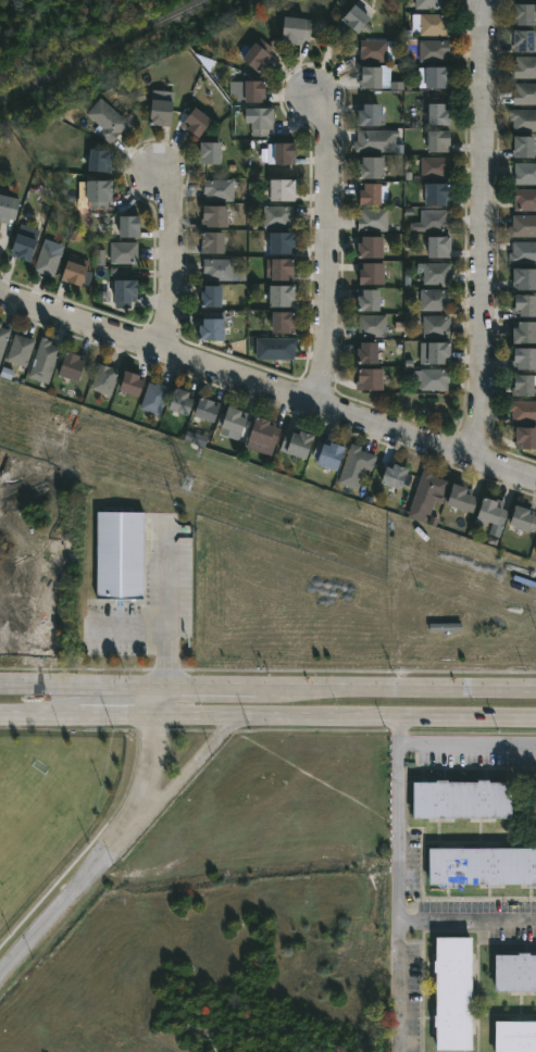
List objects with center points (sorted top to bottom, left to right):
building: (428, 4)
building: (521, 15)
building: (352, 20)
building: (432, 24)
park: (54, 25)
building: (295, 29)
building: (521, 41)
railway: (100, 49)
building: (432, 50)
building: (373, 51)
building: (254, 52)
building: (524, 66)
building: (371, 75)
building: (435, 76)
building: (246, 90)
building: (524, 93)
building: (157, 111)
building: (436, 112)
building: (365, 113)
building: (104, 120)
building: (259, 120)
building: (523, 120)
building: (192, 121)
building: (436, 139)
building: (375, 140)
building: (521, 145)
building: (207, 151)
building: (281, 152)
building: (96, 160)
building: (367, 165)
building: (434, 166)
building: (525, 172)
building: (278, 188)
building: (216, 189)
building: (96, 191)
building: (367, 192)
building: (434, 192)
building: (524, 199)
building: (7, 208)
building: (212, 214)
building: (275, 215)
building: (371, 218)
building: (433, 220)
road: (479, 224)
building: (125, 225)
building: (522, 225)
building: (278, 241)
building: (210, 242)
building: (21, 243)
building: (367, 246)
building: (436, 246)
road: (327, 251)
building: (122, 252)
building: (522, 252)
building: (47, 256)
road: (173, 256)
building: (99, 258)
building: (71, 267)
building: (216, 267)
building: (281, 268)
building: (369, 272)
building: (435, 272)
building: (522, 277)
building: (122, 292)
building: (207, 295)
building: (278, 295)
building: (365, 298)
building: (433, 299)
building: (522, 304)
building: (279, 321)
building: (371, 325)
building: (435, 326)
building: (209, 328)
building: (521, 331)
building: (2, 337)
building: (274, 348)
building: (18, 350)
building: (364, 351)
building: (436, 351)
building: (522, 358)
building: (41, 361)
building: (67, 365)
building: (103, 378)
building: (366, 378)
building: (433, 378)
road: (267, 379)
building: (126, 381)
building: (520, 384)
building: (152, 398)
building: (178, 400)
building: (203, 409)
building: (522, 410)
building: (230, 419)
building: (261, 430)
building: (523, 437)
building: (294, 442)
building: (325, 453)
building: (353, 466)
building: (390, 474)
power tower: (190, 485)
building: (425, 496)
building: (459, 498)
building: (488, 512)
building: (521, 518)
building: (535, 547)
building: (120, 554)
road: (165, 604)
road: (125, 631)
road: (120, 686)
road: (388, 687)
road: (382, 718)
road: (114, 719)
road: (465, 744)
road: (148, 760)
road: (182, 778)
building: (458, 800)
building: (481, 866)
road: (395, 885)
road: (65, 907)
road: (465, 919)
building: (513, 974)
building: (449, 995)
building: (514, 1037)

